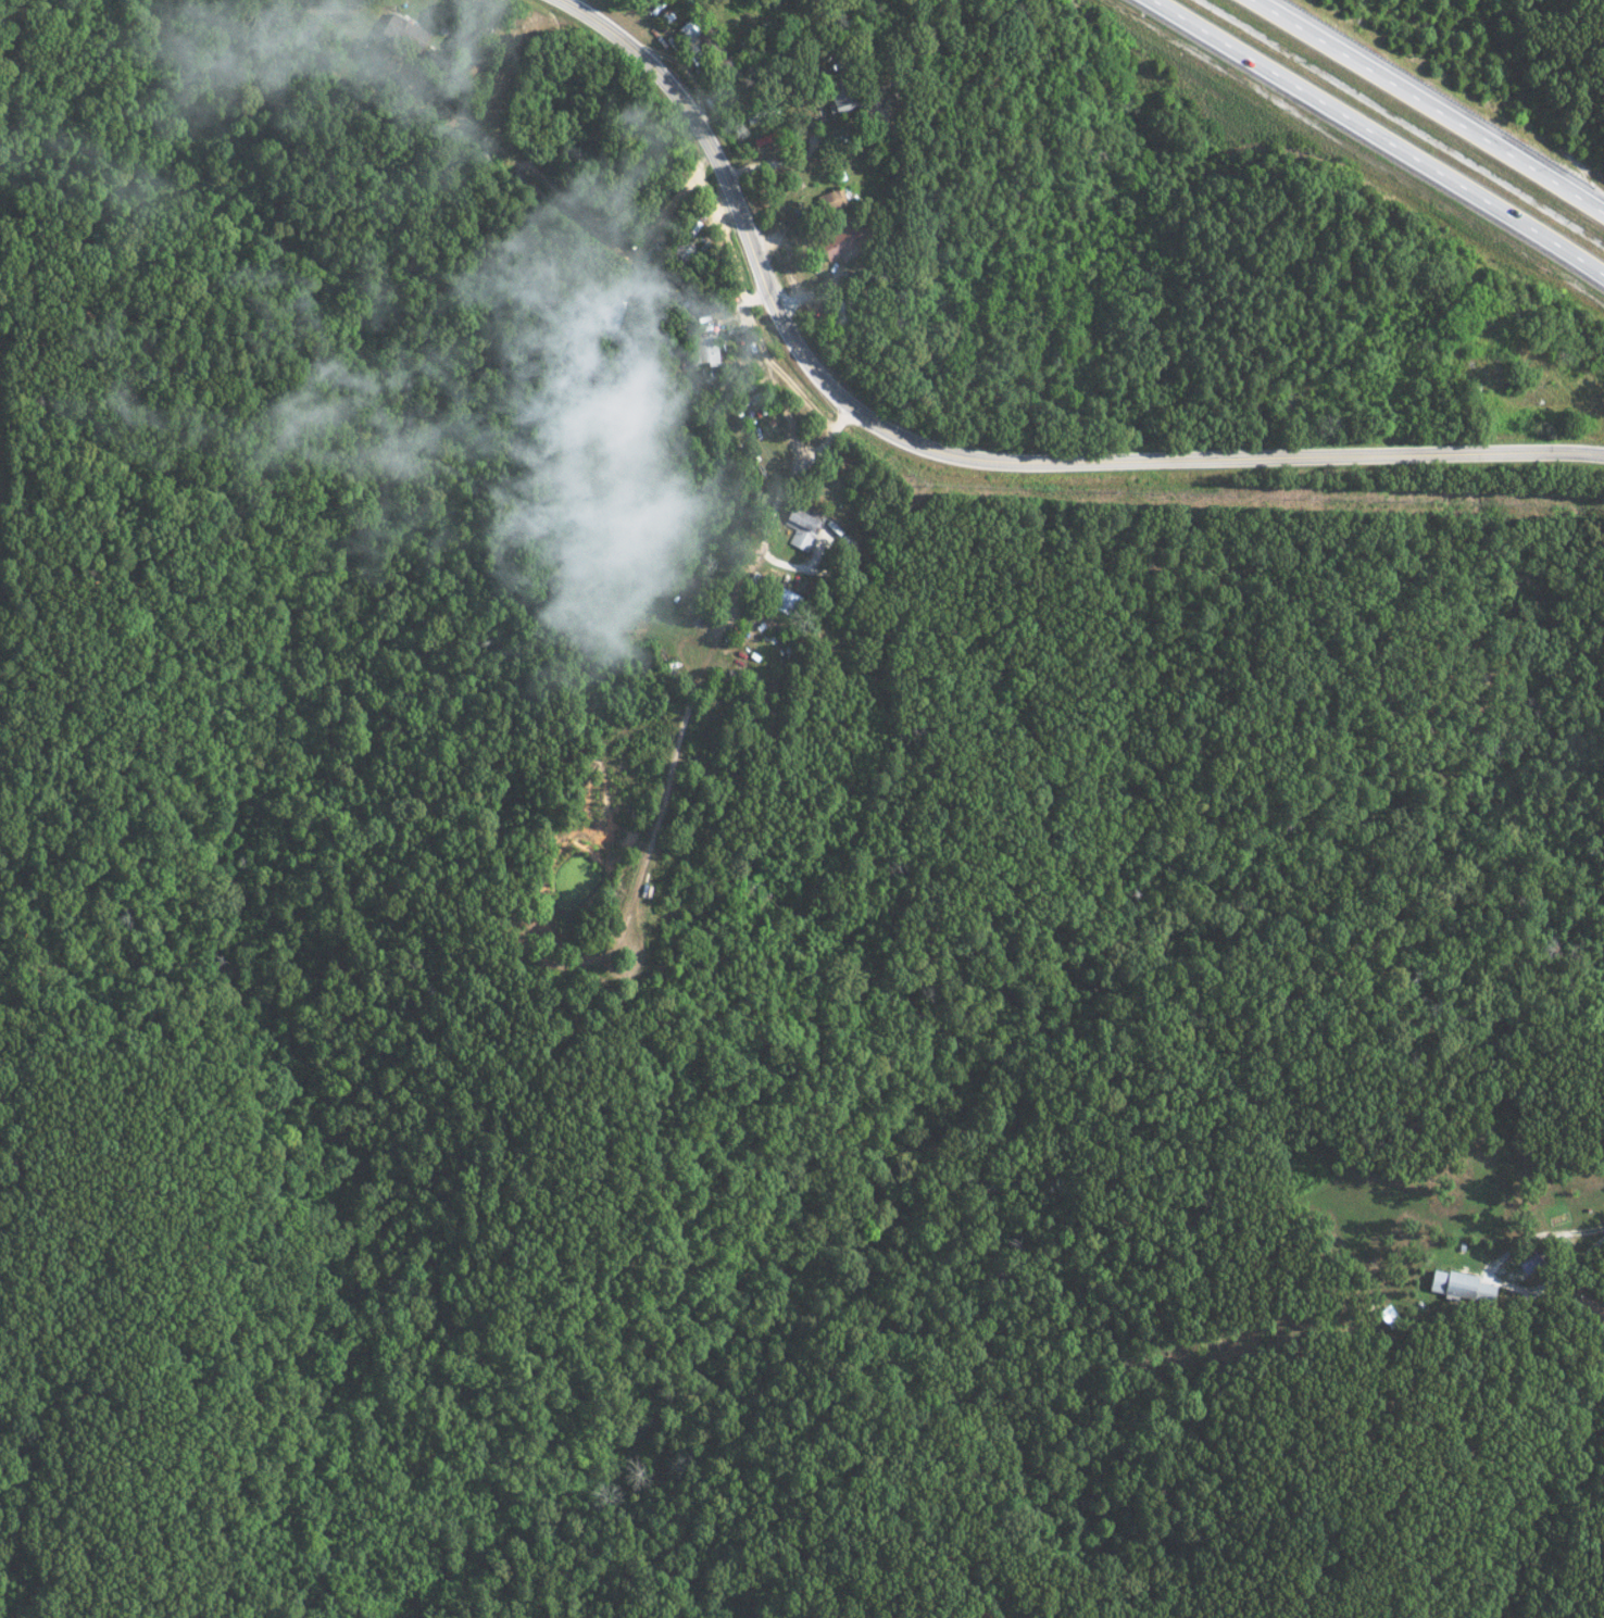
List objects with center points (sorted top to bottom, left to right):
road: (0, 1)
building: (399, 32)
building: (837, 98)
road: (1426, 109)
road: (1377, 137)
building: (827, 199)
building: (834, 243)
building: (702, 349)
road: (963, 455)
building: (799, 526)
road: (1582, 1228)
road: (1495, 1284)
building: (1456, 1287)

